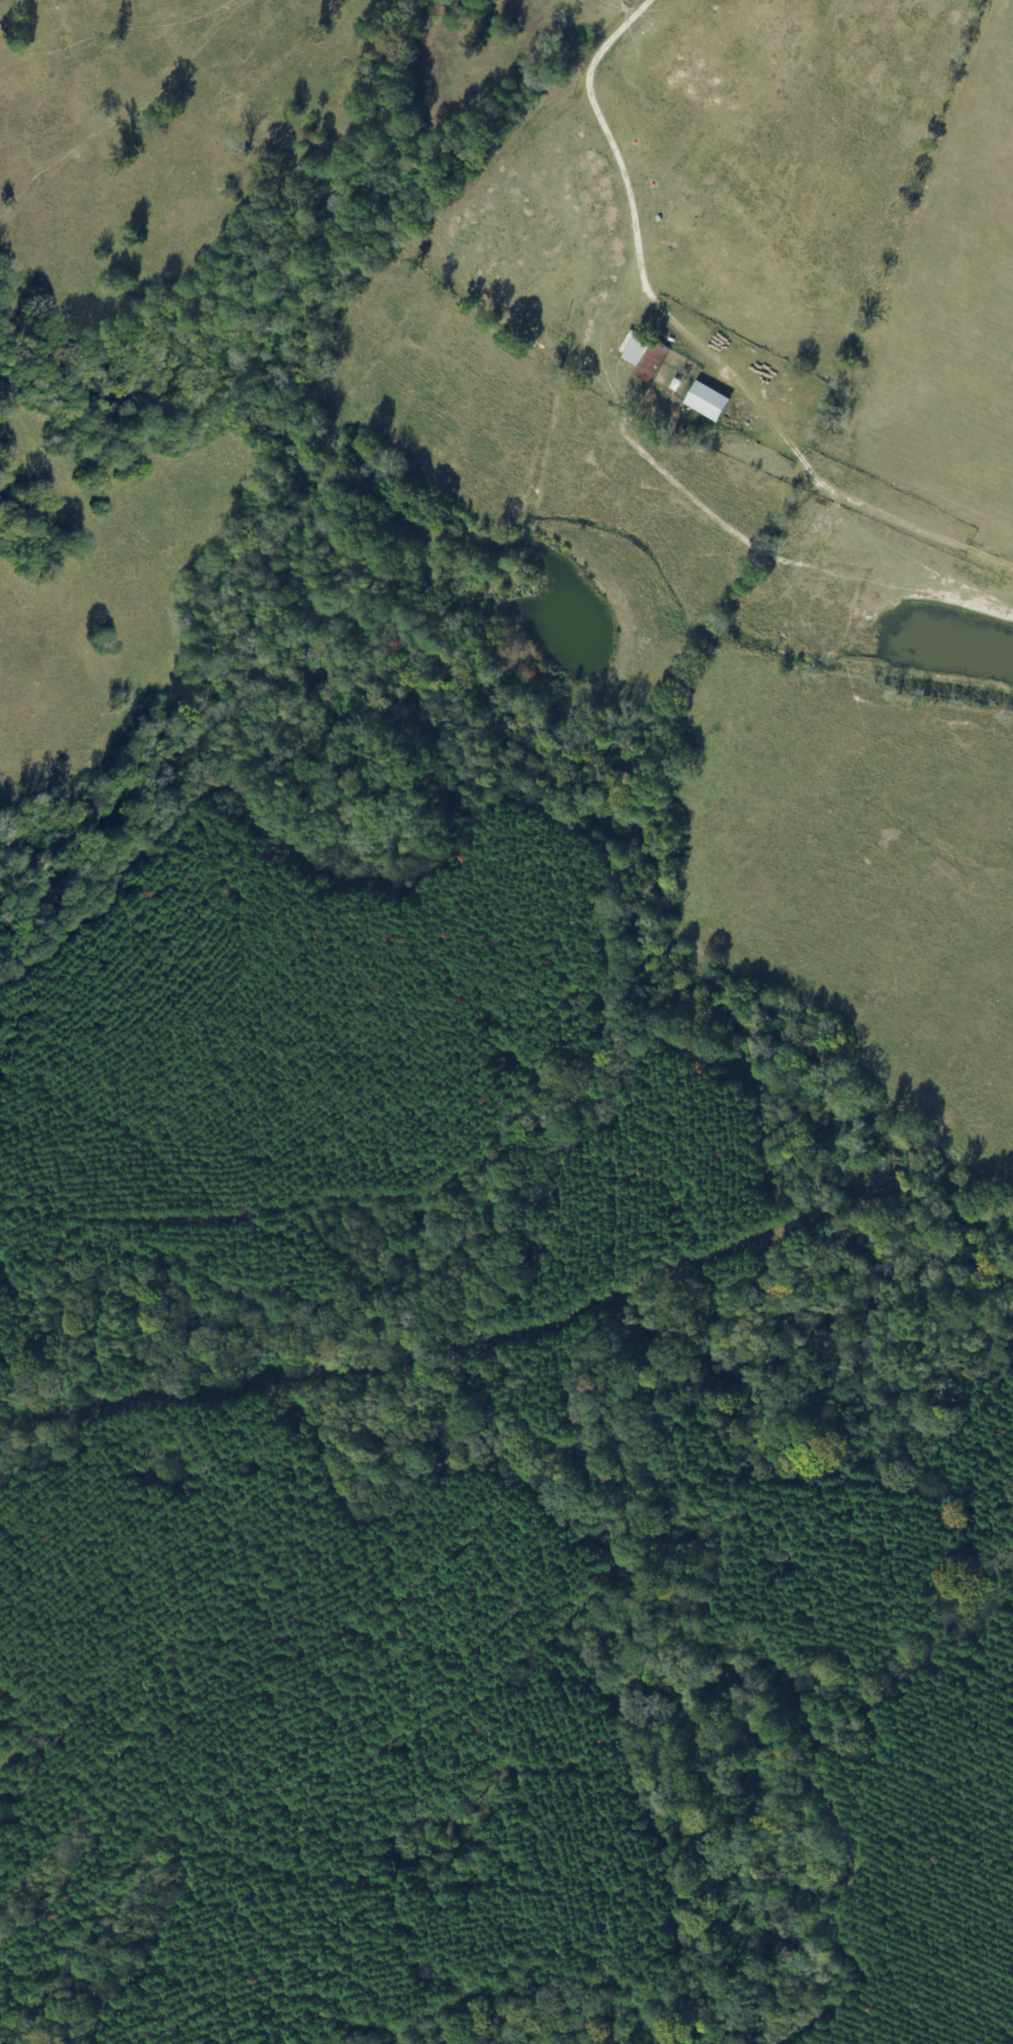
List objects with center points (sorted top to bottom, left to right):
road: (749, 356)
building: (707, 403)

